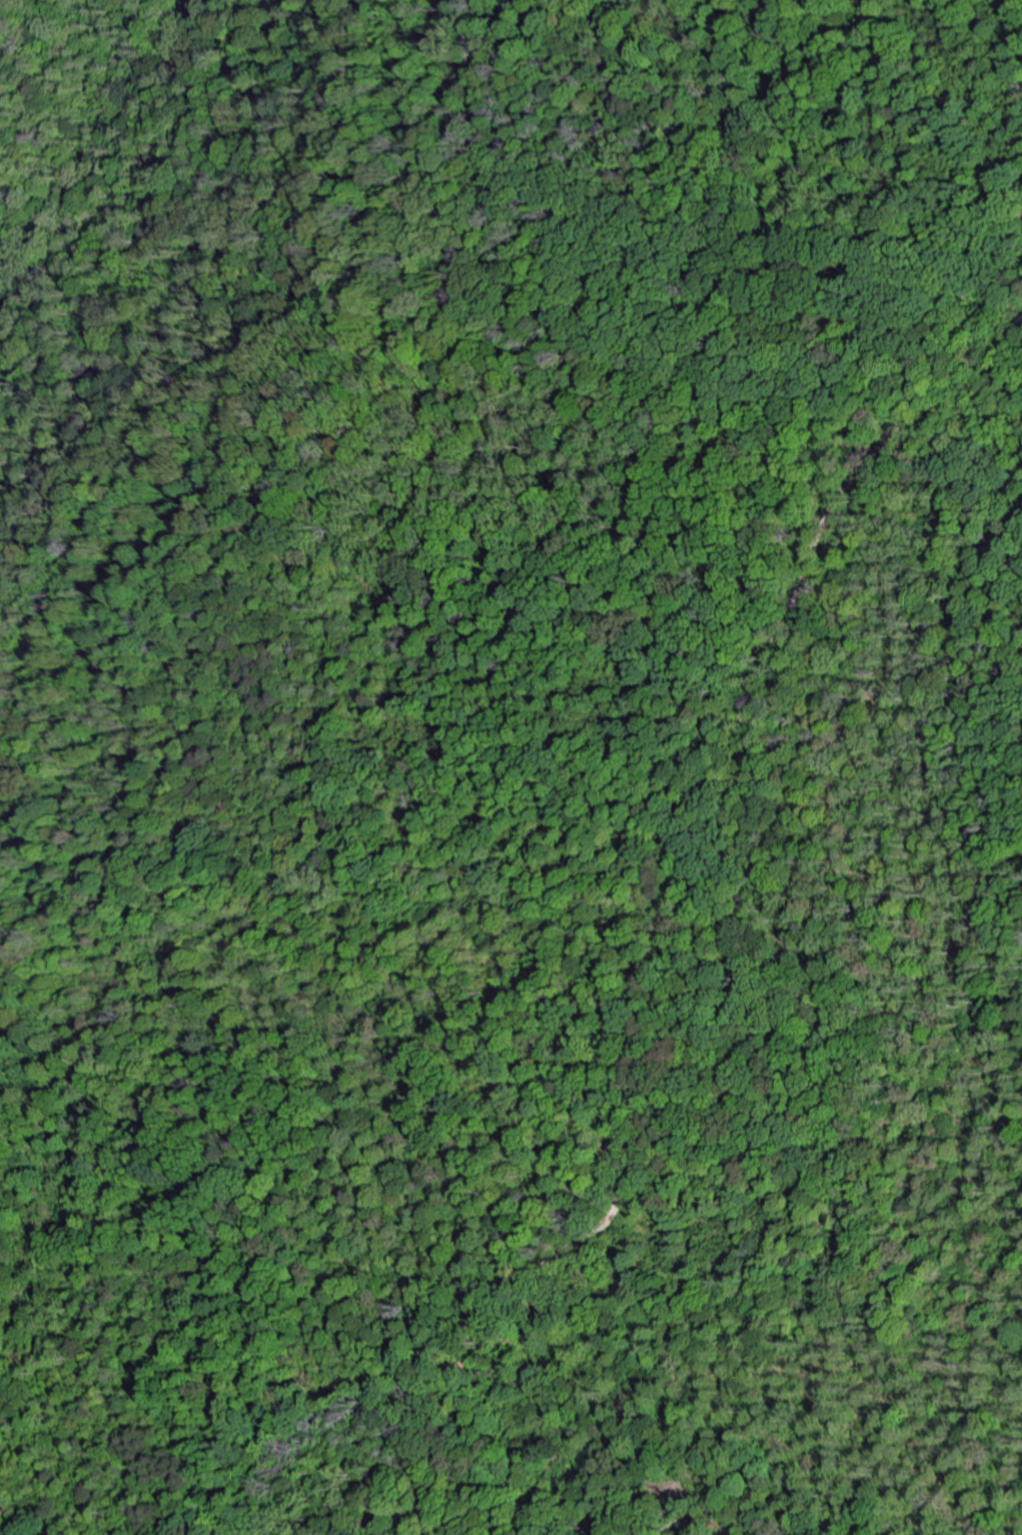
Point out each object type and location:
road: (156, 197)
road: (703, 826)

